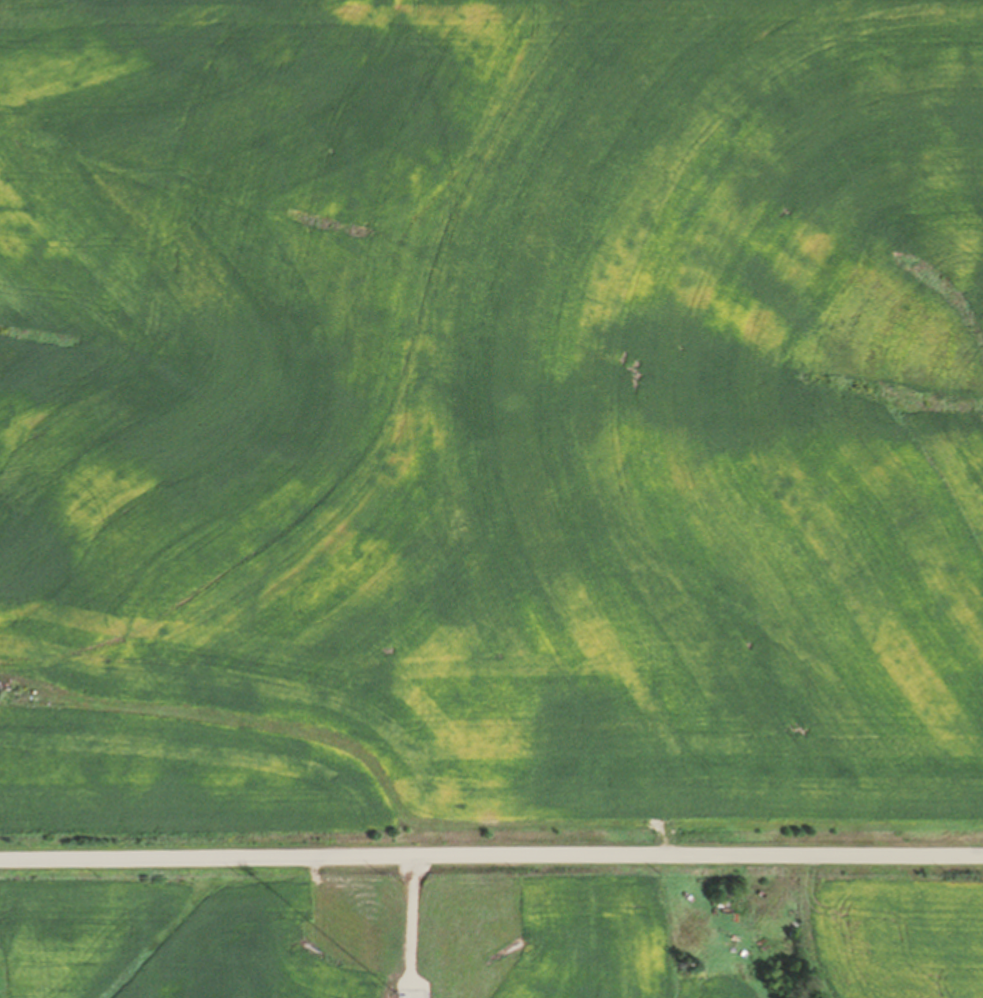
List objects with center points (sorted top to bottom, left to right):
road: (491, 856)

